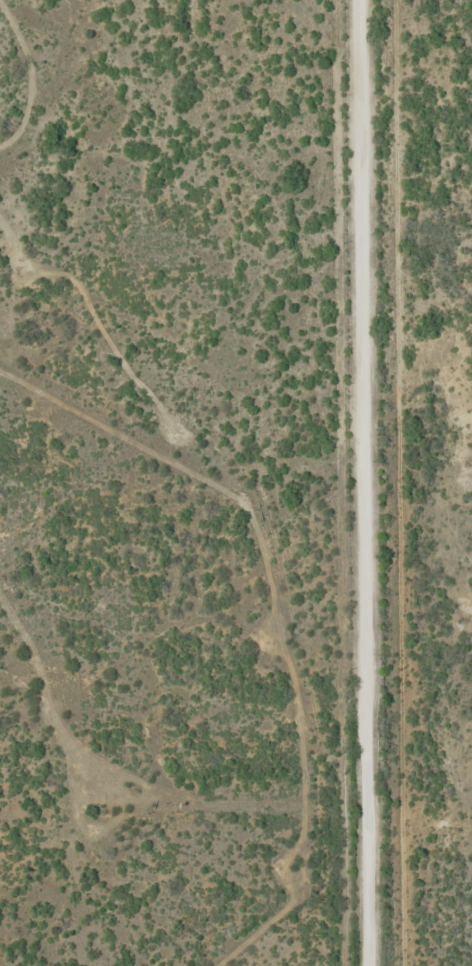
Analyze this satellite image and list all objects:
road: (366, 483)

